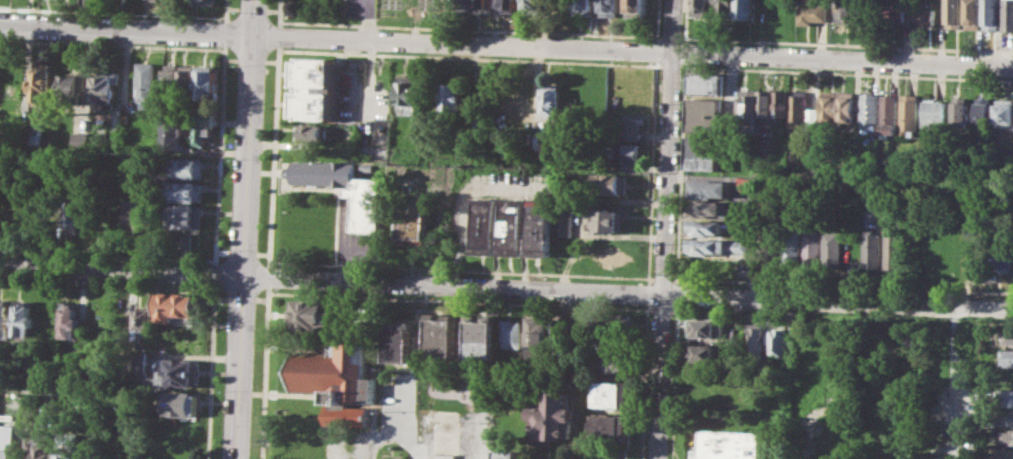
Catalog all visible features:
building: (203, 2)
building: (466, 5)
building: (535, 5)
building: (611, 5)
building: (484, 6)
building: (508, 6)
parking lot: (361, 7)
building: (584, 7)
building: (636, 7)
building: (701, 7)
road: (231, 8)
building: (723, 8)
road: (251, 9)
building: (746, 9)
road: (224, 10)
road: (271, 10)
building: (811, 12)
building: (847, 12)
road: (112, 13)
road: (278, 13)
building: (954, 13)
building: (973, 13)
building: (894, 14)
building: (992, 14)
building: (1008, 15)
building: (925, 16)
road: (684, 20)
road: (366, 21)
road: (485, 28)
road: (126, 30)
road: (223, 32)
road: (277, 36)
road: (656, 36)
road: (670, 37)
road: (111, 44)
road: (461, 44)
road: (846, 44)
road: (655, 51)
road: (683, 51)
road: (467, 57)
road: (841, 58)
road: (229, 59)
road: (249, 60)
road: (269, 61)
road: (669, 65)
road: (845, 72)
building: (172, 77)
building: (189, 78)
building: (207, 79)
building: (147, 80)
building: (41, 82)
building: (706, 83)
building: (629, 84)
road: (367, 86)
building: (313, 87)
building: (72, 89)
building: (105, 89)
building: (407, 93)
building: (450, 97)
building: (550, 99)
building: (593, 100)
building: (781, 103)
building: (757, 106)
building: (827, 106)
building: (845, 107)
building: (798, 108)
building: (868, 108)
building: (932, 111)
building: (958, 111)
building: (1004, 111)
building: (908, 112)
building: (982, 112)
building: (889, 113)
building: (705, 115)
building: (811, 117)
building: (623, 128)
building: (203, 129)
building: (311, 132)
building: (377, 133)
road: (247, 139)
building: (82, 140)
road: (667, 146)
building: (704, 152)
building: (622, 153)
road: (218, 155)
road: (272, 156)
building: (188, 167)
building: (367, 167)
road: (650, 171)
road: (679, 171)
building: (610, 182)
building: (744, 183)
building: (707, 187)
building: (186, 191)
building: (873, 193)
building: (367, 205)
building: (707, 208)
building: (77, 209)
building: (135, 213)
building: (186, 216)
building: (608, 220)
building: (415, 222)
building: (566, 223)
building: (486, 225)
building: (513, 226)
building: (541, 227)
building: (705, 227)
building: (715, 246)
building: (793, 246)
building: (813, 248)
building: (833, 249)
building: (872, 249)
building: (894, 249)
road: (221, 251)
road: (241, 252)
road: (262, 253)
road: (107, 254)
building: (1001, 258)
road: (459, 268)
road: (120, 272)
road: (214, 274)
road: (267, 276)
road: (661, 277)
road: (106, 283)
road: (842, 284)
road: (452, 286)
road: (646, 293)
road: (675, 294)
road: (220, 297)
road: (240, 298)
road: (260, 299)
road: (458, 301)
road: (837, 301)
building: (173, 305)
road: (660, 309)
road: (730, 312)
building: (311, 314)
building: (4, 318)
building: (24, 318)
building: (70, 319)
building: (143, 319)
building: (613, 321)
road: (1001, 322)
building: (704, 327)
building: (535, 331)
building: (512, 333)
building: (560, 334)
building: (442, 336)
building: (1009, 337)
building: (483, 338)
building: (754, 339)
building: (400, 341)
building: (613, 342)
building: (776, 343)
building: (703, 352)
building: (1006, 357)
building: (614, 363)
road: (238, 368)
road: (209, 371)
building: (179, 372)
road: (264, 372)
road: (659, 375)
building: (339, 380)
road: (642, 381)
road: (672, 382)
building: (731, 392)
building: (611, 395)
building: (1006, 396)
building: (181, 404)
building: (1006, 417)
building: (552, 419)
building: (609, 427)
building: (1009, 436)
building: (309, 443)
building: (727, 444)
building: (66, 445)
building: (43, 447)
building: (1007, 453)
building: (5, 454)
building: (508, 454)

